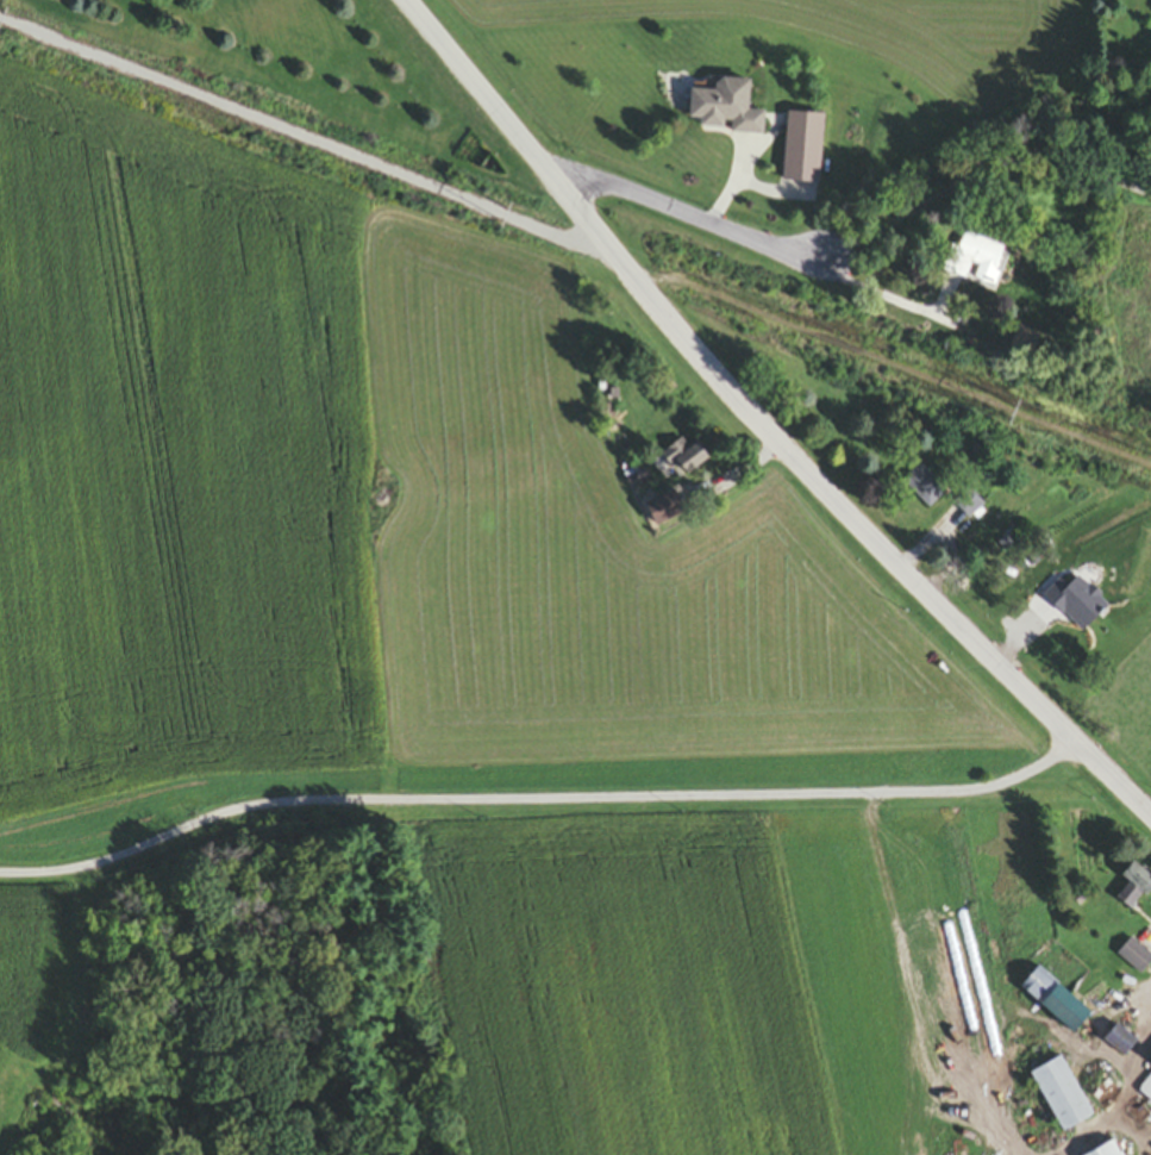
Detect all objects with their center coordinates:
power tower: (10, 25)
building: (725, 111)
road: (315, 150)
building: (802, 150)
road: (983, 171)
road: (689, 207)
power tower: (511, 219)
building: (978, 254)
power tower: (1019, 417)
road: (761, 423)
building: (683, 461)
building: (925, 488)
building: (969, 507)
building: (665, 511)
road: (536, 799)
building: (1133, 885)
building: (1134, 957)
building: (1053, 1001)
building: (1118, 1042)
building: (1145, 1091)
building: (1061, 1097)
building: (1108, 1150)

